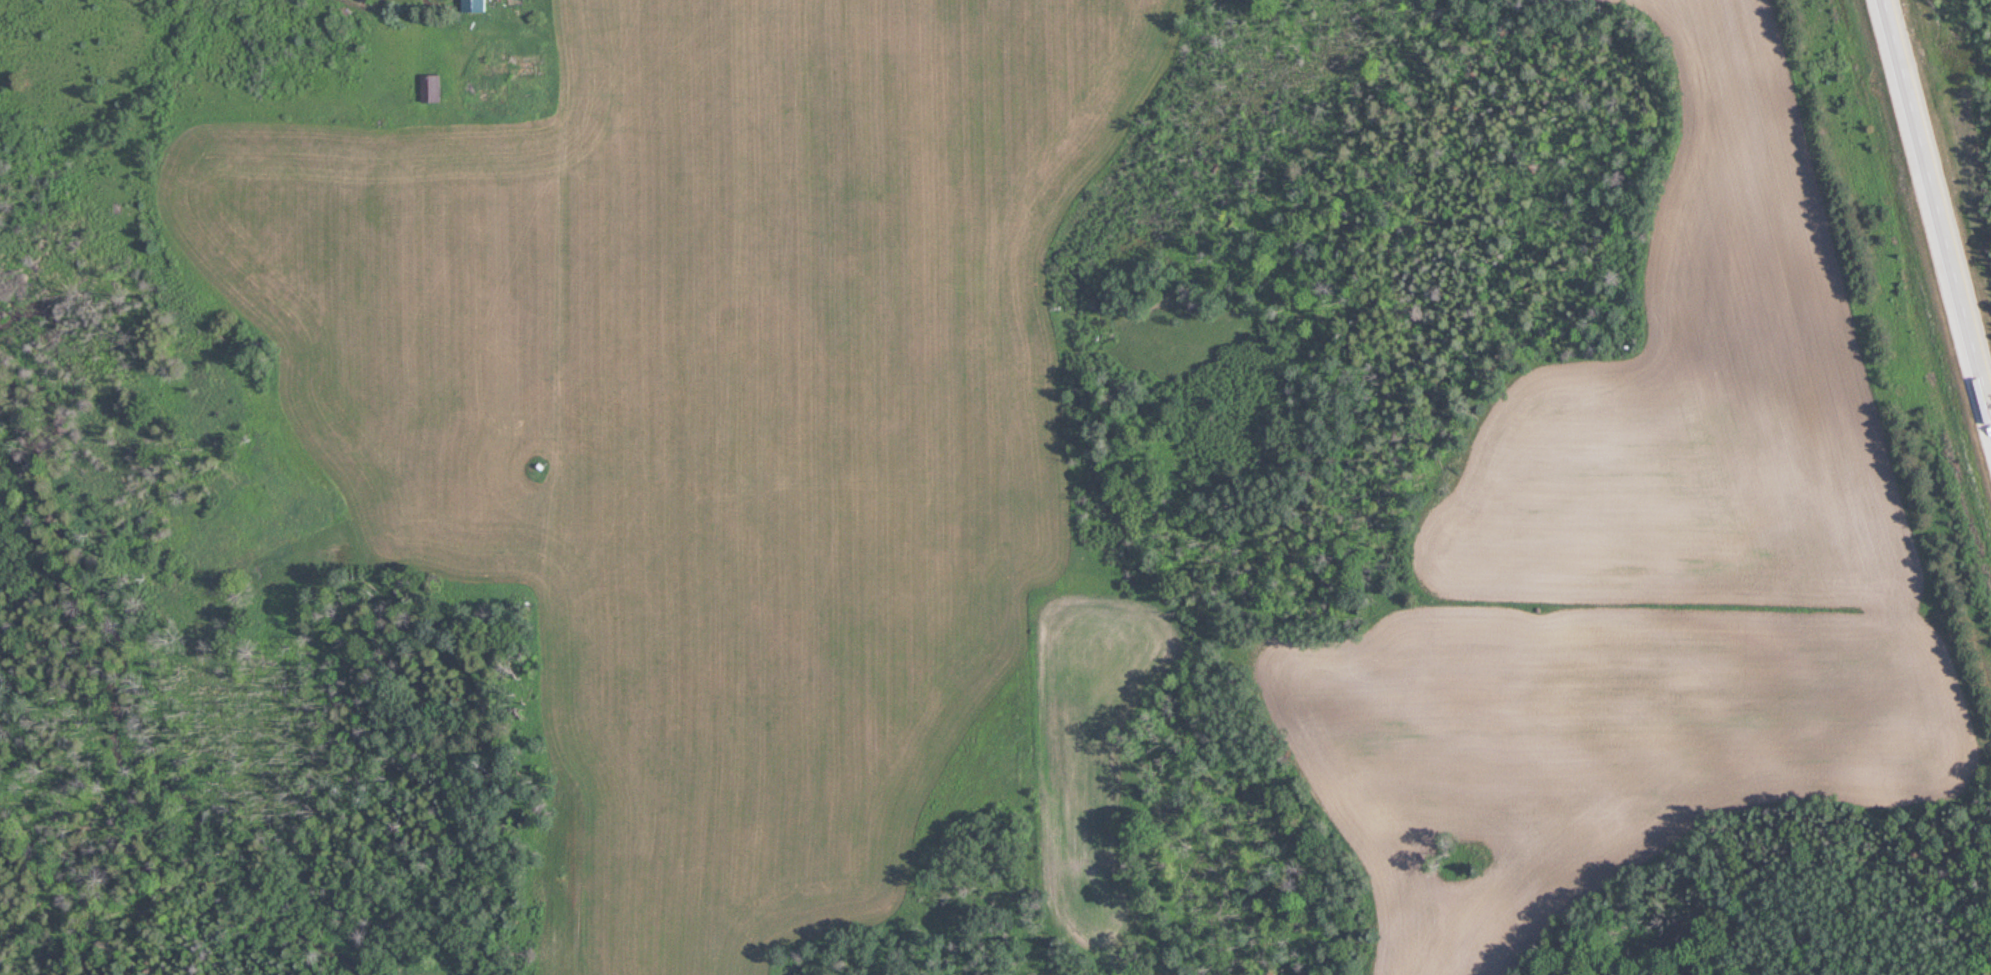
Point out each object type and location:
building: (435, 88)
road: (1940, 195)

